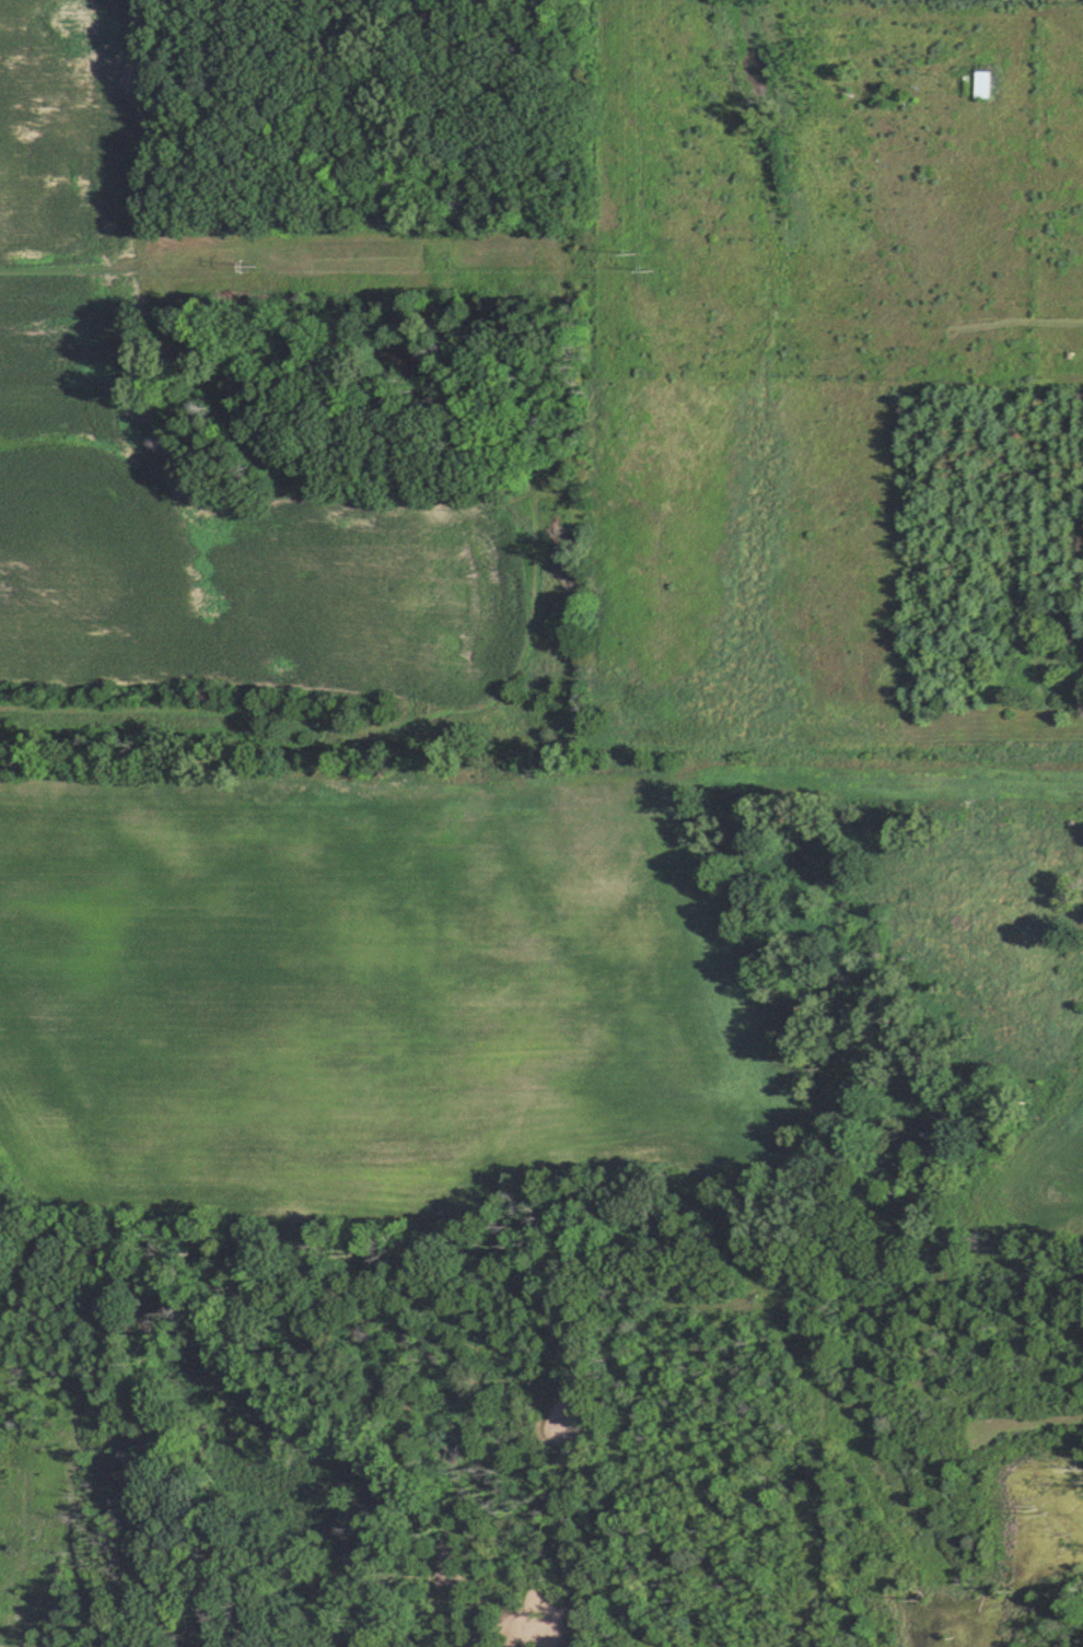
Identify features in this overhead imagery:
building: (983, 84)

